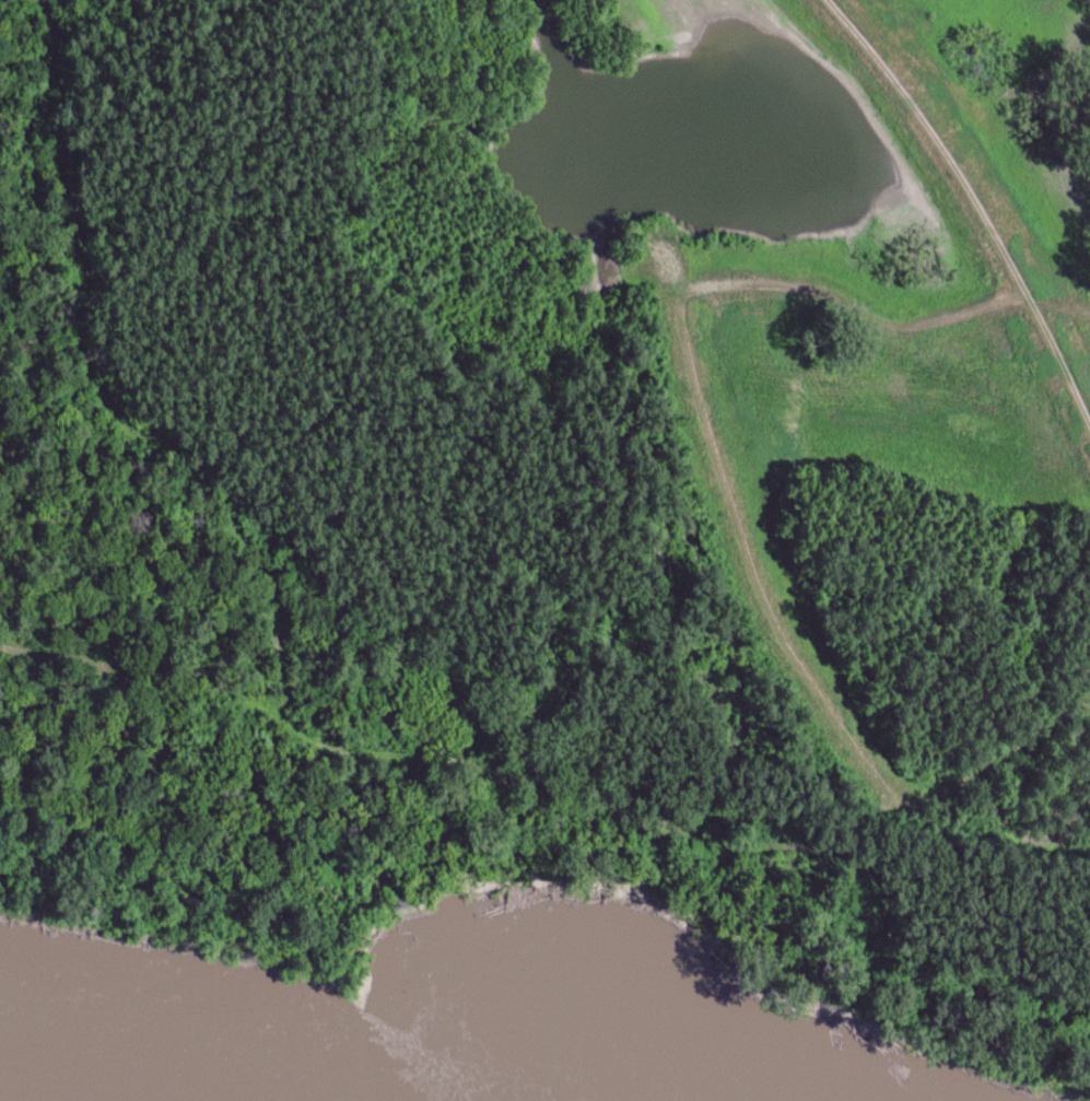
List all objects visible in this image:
road: (974, 206)

